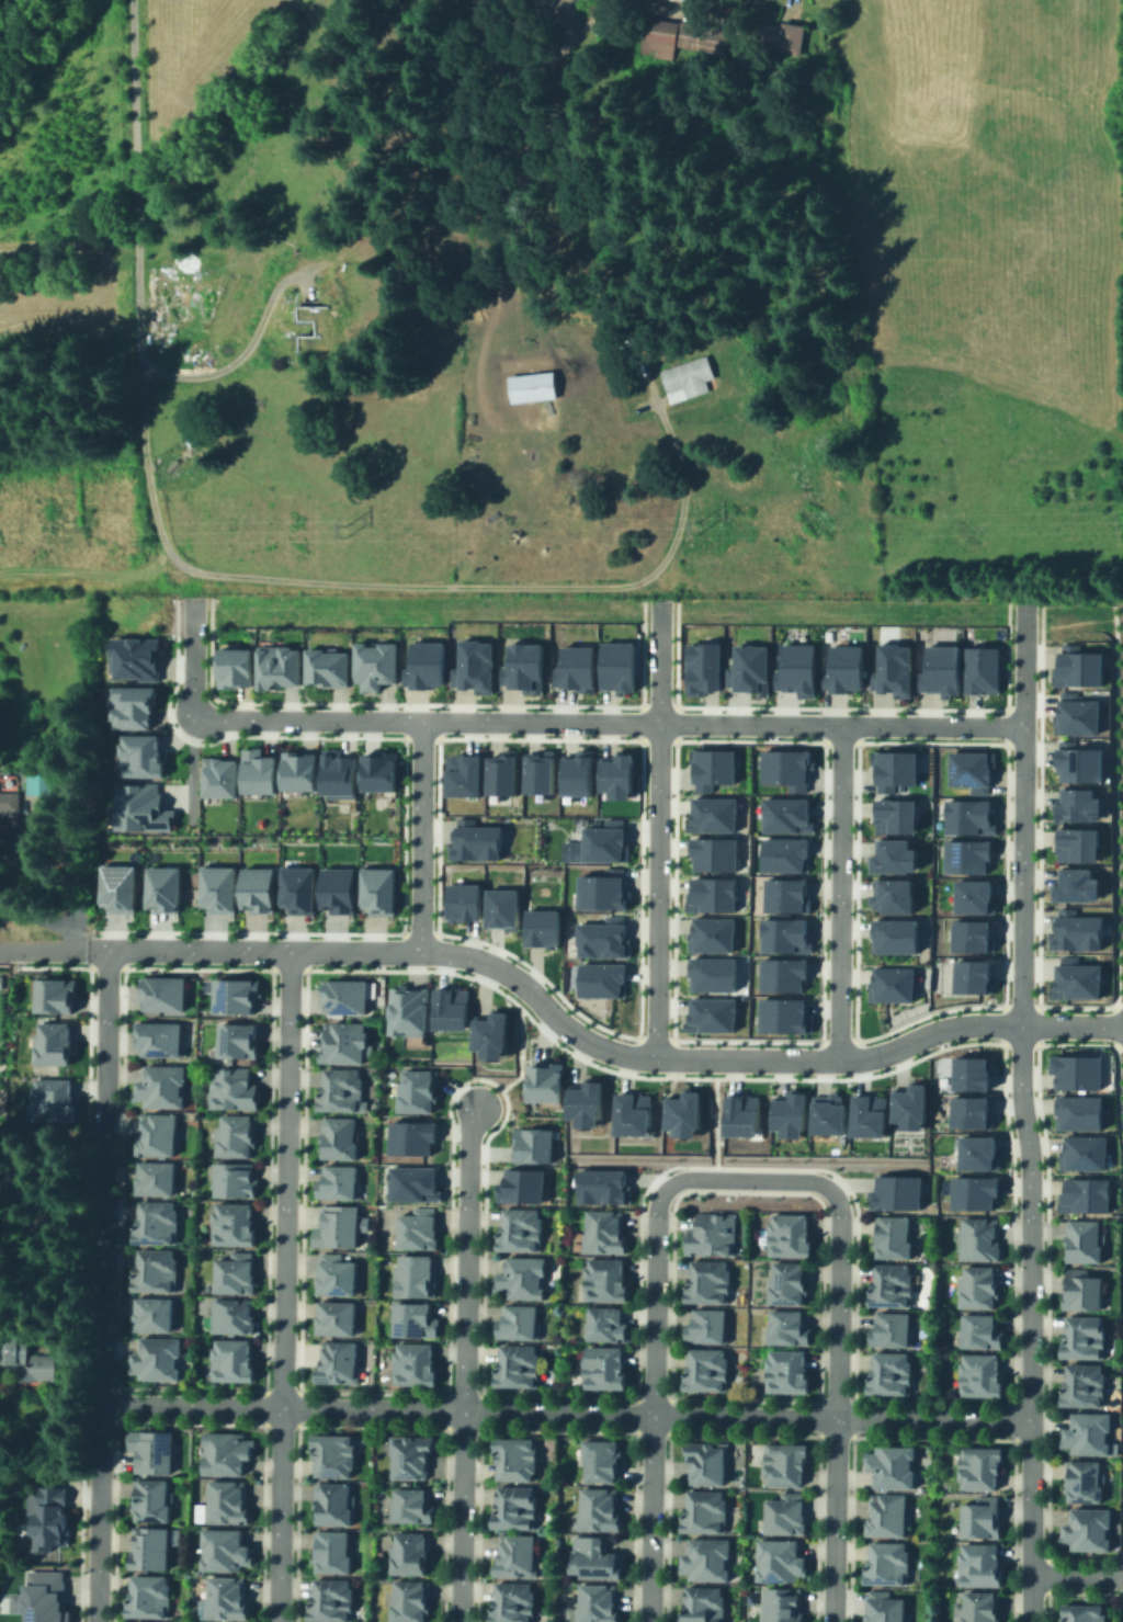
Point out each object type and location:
building: (671, 1)
building: (779, 41)
building: (655, 42)
building: (701, 42)
road: (134, 181)
building: (318, 327)
building: (688, 378)
building: (528, 389)
building: (170, 468)
road: (290, 580)
park: (412, 608)
park: (840, 610)
park: (127, 612)
park: (1074, 621)
road: (193, 656)
building: (138, 657)
building: (371, 663)
building: (420, 663)
building: (614, 665)
building: (1074, 665)
building: (228, 666)
building: (273, 666)
building: (322, 666)
building: (470, 666)
building: (702, 666)
building: (520, 667)
building: (746, 667)
building: (792, 667)
building: (841, 667)
building: (977, 667)
building: (571, 668)
building: (888, 668)
building: (938, 668)
building: (138, 704)
building: (1071, 713)
road: (611, 721)
building: (144, 756)
building: (1077, 762)
building: (711, 765)
building: (783, 767)
building: (888, 767)
building: (968, 768)
building: (304, 769)
building: (383, 770)
building: (263, 771)
building: (535, 771)
building: (496, 773)
building: (572, 773)
building: (457, 774)
building: (342, 775)
building: (611, 775)
building: (222, 776)
building: (38, 781)
building: (10, 804)
building: (1075, 804)
building: (143, 807)
building: (710, 814)
building: (889, 814)
road: (1023, 814)
building: (781, 815)
building: (965, 816)
road: (660, 829)
road: (418, 835)
building: (470, 840)
building: (595, 843)
building: (1073, 843)
building: (712, 854)
building: (780, 854)
building: (888, 855)
building: (963, 855)
building: (302, 885)
building: (1071, 885)
building: (341, 886)
building: (122, 887)
building: (167, 887)
building: (260, 887)
building: (222, 888)
building: (382, 889)
building: (599, 891)
road: (840, 892)
building: (712, 895)
building: (781, 895)
building: (887, 895)
building: (969, 895)
building: (466, 903)
building: (503, 907)
building: (545, 927)
building: (1073, 930)
building: (708, 934)
building: (782, 934)
building: (891, 934)
building: (968, 935)
building: (601, 939)
road: (10, 948)
road: (57, 948)
building: (707, 974)
building: (779, 974)
building: (969, 976)
building: (597, 979)
building: (1073, 979)
building: (7, 982)
building: (888, 984)
building: (162, 991)
building: (54, 994)
building: (238, 995)
building: (348, 995)
building: (458, 1008)
building: (415, 1010)
building: (706, 1013)
building: (780, 1016)
building: (499, 1035)
building: (157, 1037)
building: (241, 1040)
building: (347, 1041)
road: (104, 1042)
building: (53, 1043)
road: (595, 1046)
road: (522, 1054)
building: (967, 1073)
building: (1078, 1073)
building: (546, 1081)
building: (165, 1085)
building: (236, 1087)
building: (420, 1089)
building: (344, 1090)
building: (48, 1099)
building: (588, 1103)
building: (910, 1109)
building: (1076, 1112)
building: (636, 1113)
building: (966, 1113)
building: (738, 1114)
building: (829, 1115)
building: (684, 1116)
building: (791, 1116)
building: (870, 1118)
road: (717, 1119)
building: (160, 1133)
building: (237, 1135)
building: (341, 1137)
building: (419, 1137)
building: (535, 1144)
building: (974, 1153)
building: (1079, 1153)
building: (160, 1177)
building: (237, 1179)
building: (340, 1182)
building: (420, 1183)
building: (523, 1183)
building: (600, 1187)
building: (969, 1192)
building: (898, 1193)
building: (1081, 1195)
building: (161, 1222)
building: (240, 1223)
building: (341, 1226)
building: (420, 1227)
building: (603, 1232)
building: (519, 1233)
building: (713, 1236)
building: (790, 1236)
building: (976, 1238)
building: (894, 1239)
building: (1082, 1241)
building: (161, 1270)
building: (238, 1271)
building: (339, 1274)
building: (418, 1274)
building: (522, 1281)
building: (604, 1282)
building: (790, 1284)
road: (283, 1285)
building: (707, 1285)
building: (976, 1286)
building: (895, 1288)
building: (1078, 1291)
road: (101, 1302)
building: (158, 1313)
building: (237, 1315)
building: (338, 1318)
building: (418, 1319)
road: (1030, 1323)
building: (518, 1325)
building: (605, 1326)
building: (790, 1326)
building: (708, 1327)
building: (891, 1329)
building: (980, 1330)
building: (1084, 1339)
building: (23, 1357)
building: (158, 1358)
building: (237, 1361)
road: (464, 1362)
road: (655, 1362)
road: (839, 1362)
building: (337, 1364)
building: (412, 1364)
building: (518, 1369)
building: (603, 1371)
building: (787, 1372)
building: (707, 1373)
building: (889, 1375)
building: (979, 1376)
building: (1082, 1388)
road: (565, 1413)
building: (1089, 1437)
building: (154, 1449)
building: (409, 1459)
building: (223, 1460)
building: (331, 1460)
building: (515, 1461)
building: (603, 1463)
building: (707, 1465)
building: (786, 1467)
building: (893, 1468)
building: (983, 1471)
road: (49, 1477)
building: (1082, 1482)
building: (156, 1500)
building: (225, 1508)
building: (513, 1508)
building: (412, 1509)
building: (333, 1511)
building: (702, 1511)
building: (599, 1513)
building: (781, 1515)
building: (885, 1515)
building: (52, 1516)
building: (978, 1517)
building: (1090, 1531)
road: (97, 1545)
building: (151, 1549)
building: (223, 1555)
building: (408, 1556)
building: (514, 1556)
building: (332, 1557)
building: (703, 1561)
building: (594, 1562)
building: (775, 1562)
building: (883, 1563)
building: (978, 1564)
road: (1077, 1576)
building: (38, 1597)
building: (151, 1597)
building: (224, 1602)
building: (331, 1603)
building: (410, 1603)
building: (700, 1604)
building: (513, 1606)
building: (597, 1606)
building: (779, 1606)
building: (883, 1608)
building: (979, 1610)
building: (1082, 1613)

